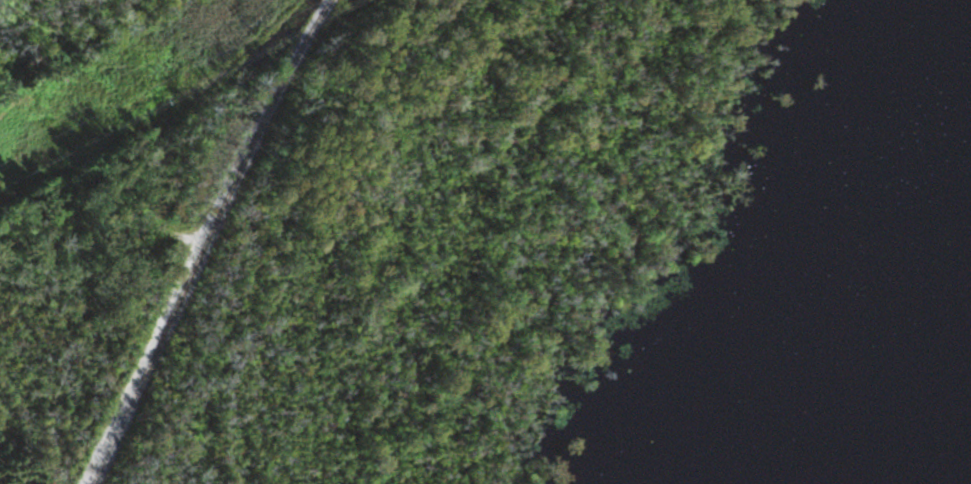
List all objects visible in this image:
power tower: (244, 22)
railway: (208, 240)

